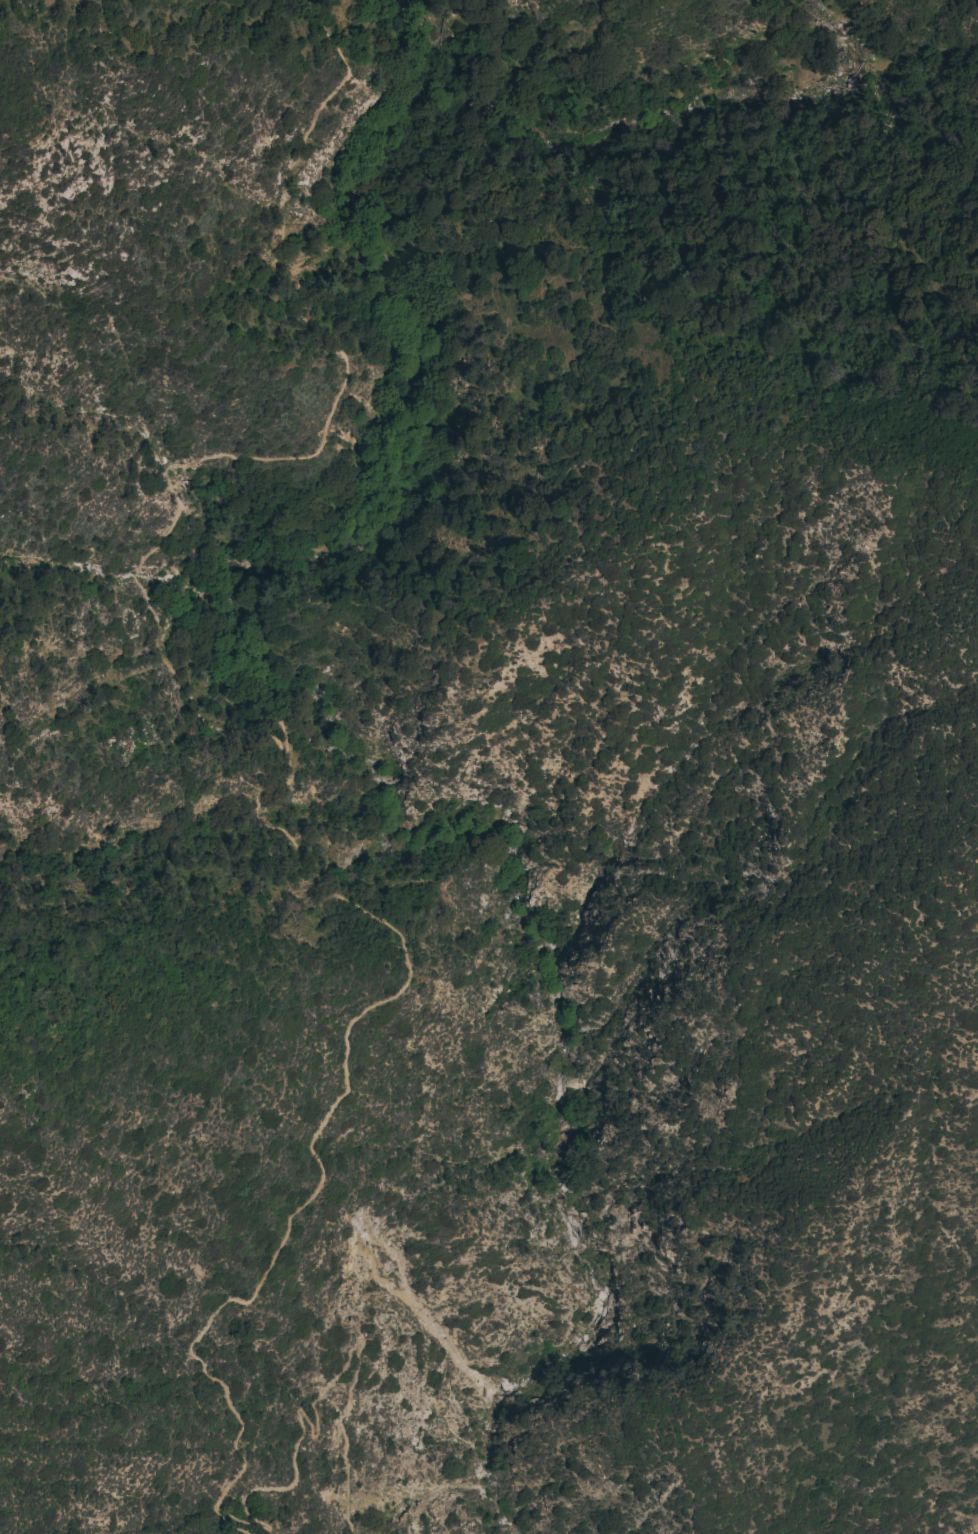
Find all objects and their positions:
road: (321, 36)
road: (167, 491)
road: (239, 677)
road: (235, 1456)

